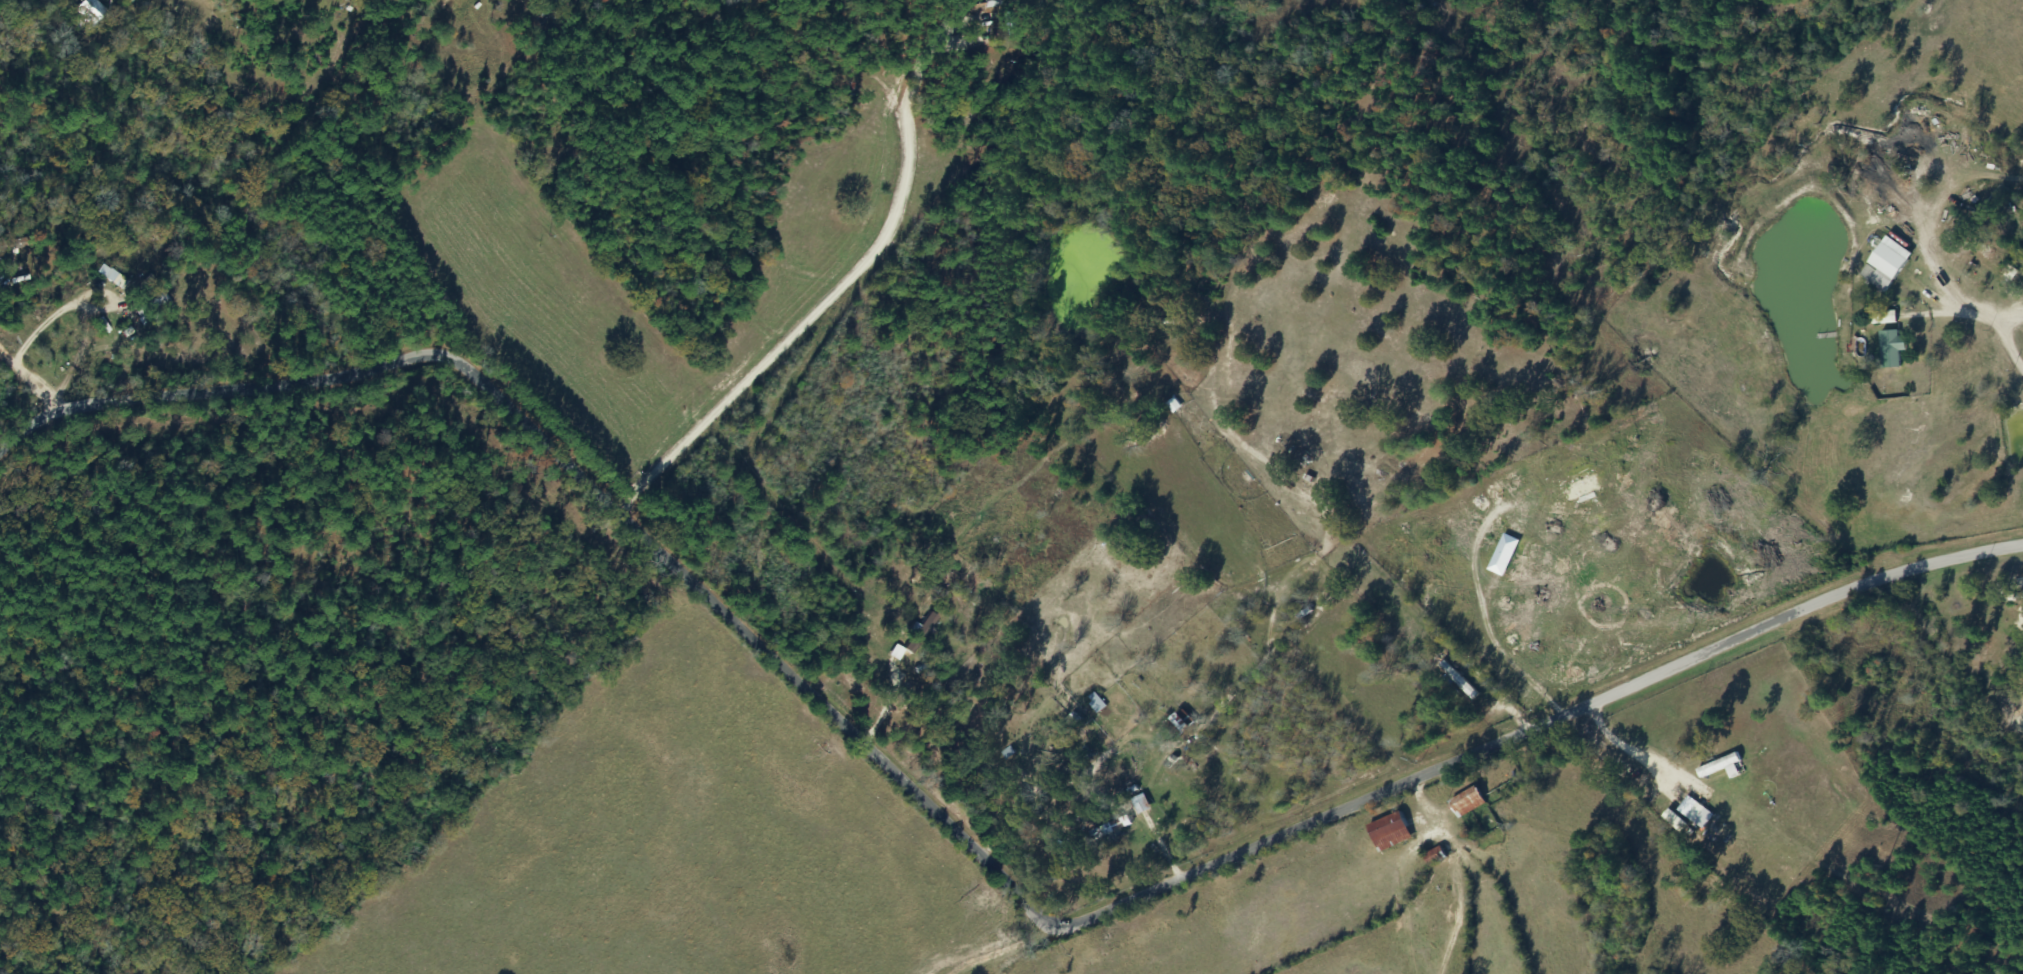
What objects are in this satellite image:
building: (11, 244)
building: (1979, 254)
building: (1883, 266)
building: (154, 305)
building: (1886, 353)
road: (19, 416)
building: (1578, 489)
road: (898, 653)
building: (1459, 676)
building: (1097, 703)
building: (1719, 767)
building: (1464, 804)
building: (1693, 814)
building: (1111, 829)
building: (1387, 833)
building: (1433, 857)
road: (951, 865)
road: (1454, 873)

